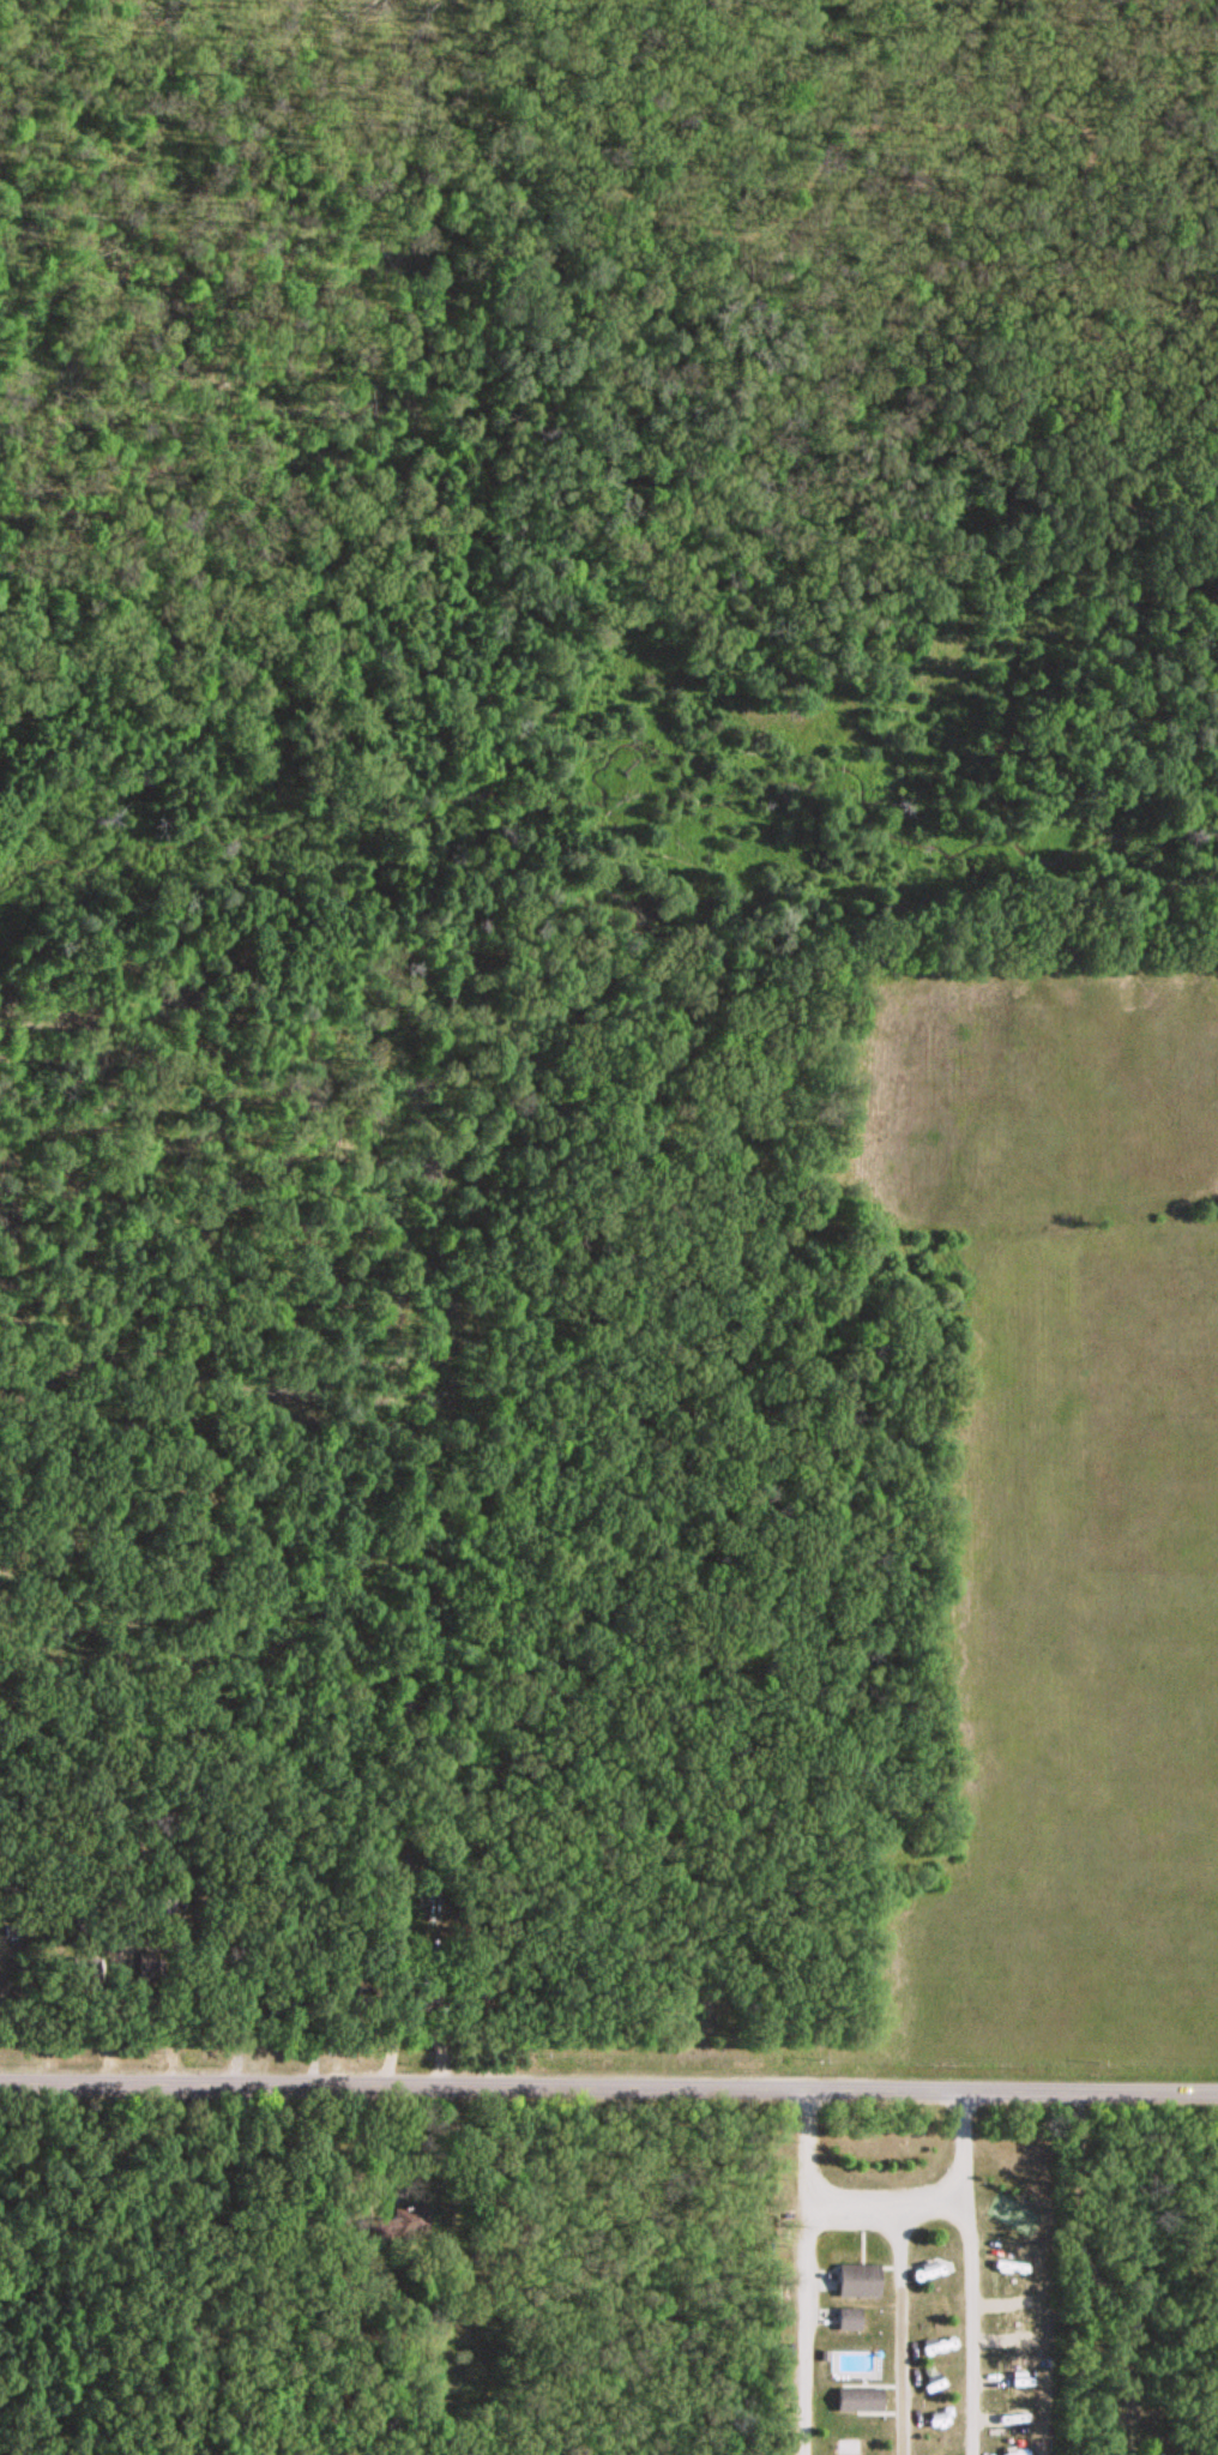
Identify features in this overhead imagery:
building: (73, 1957)
building: (289, 1999)
road: (608, 2086)
road: (882, 2200)
road: (1097, 2274)
building: (857, 2276)
building: (848, 2313)
road: (902, 2327)
road: (966, 2327)
road: (803, 2328)
building: (858, 2395)

